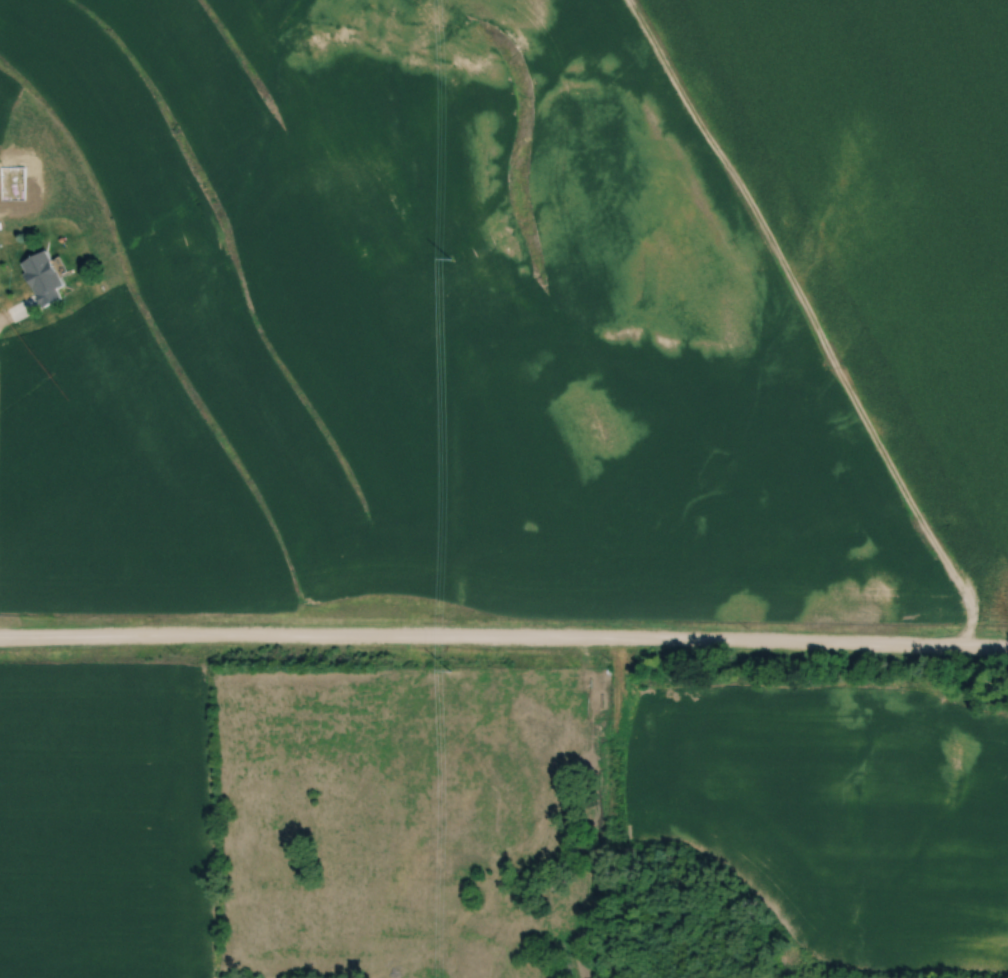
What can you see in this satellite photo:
building: (46, 278)
road: (504, 642)

